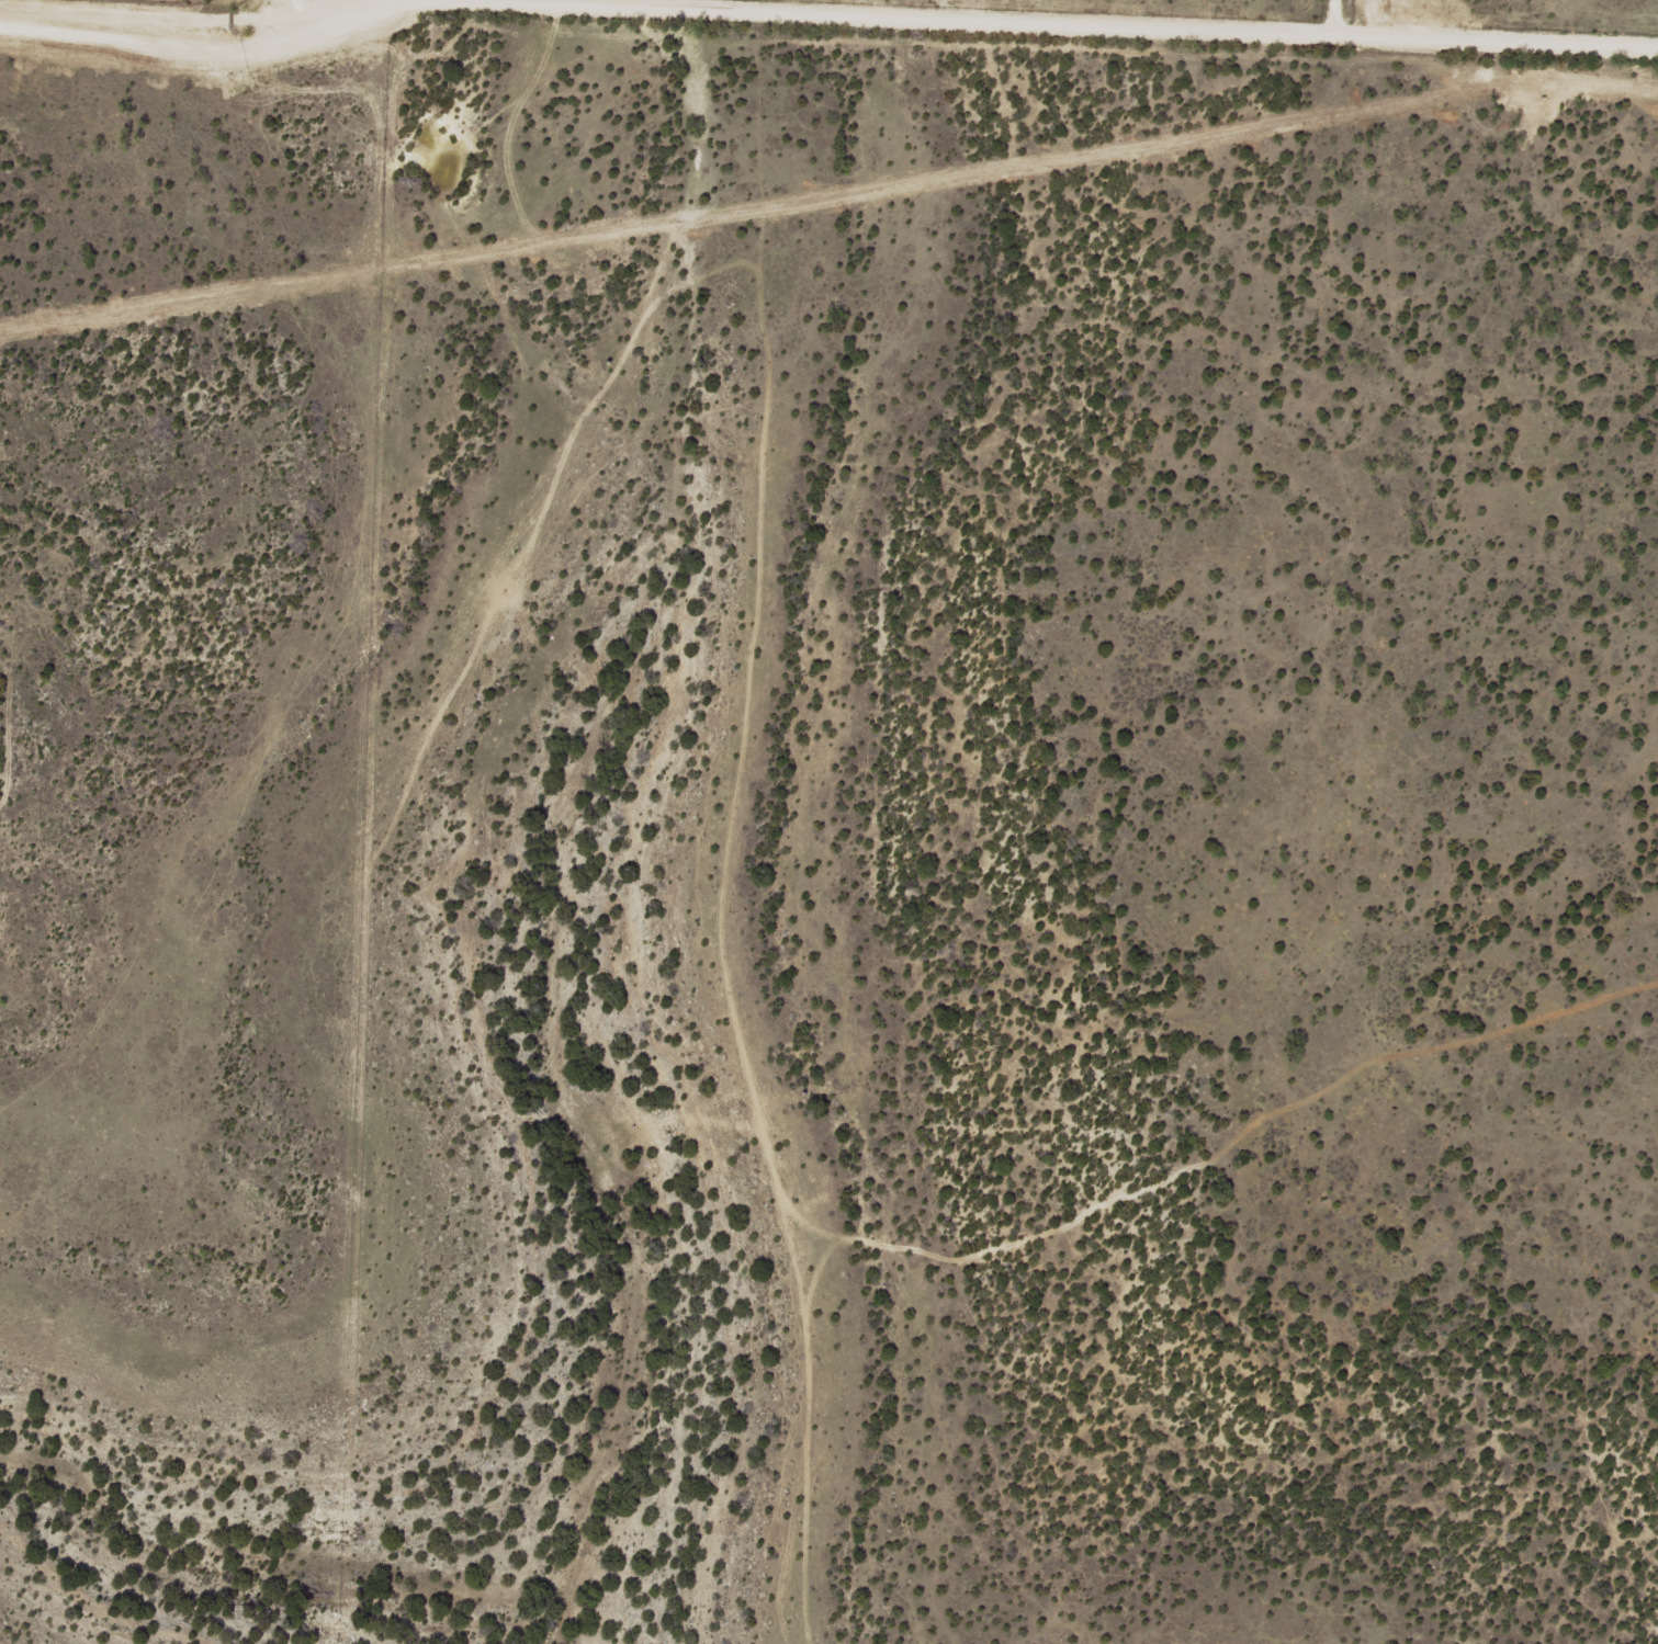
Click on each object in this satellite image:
road: (657, 3)
road: (151, 13)
road: (1064, 23)

